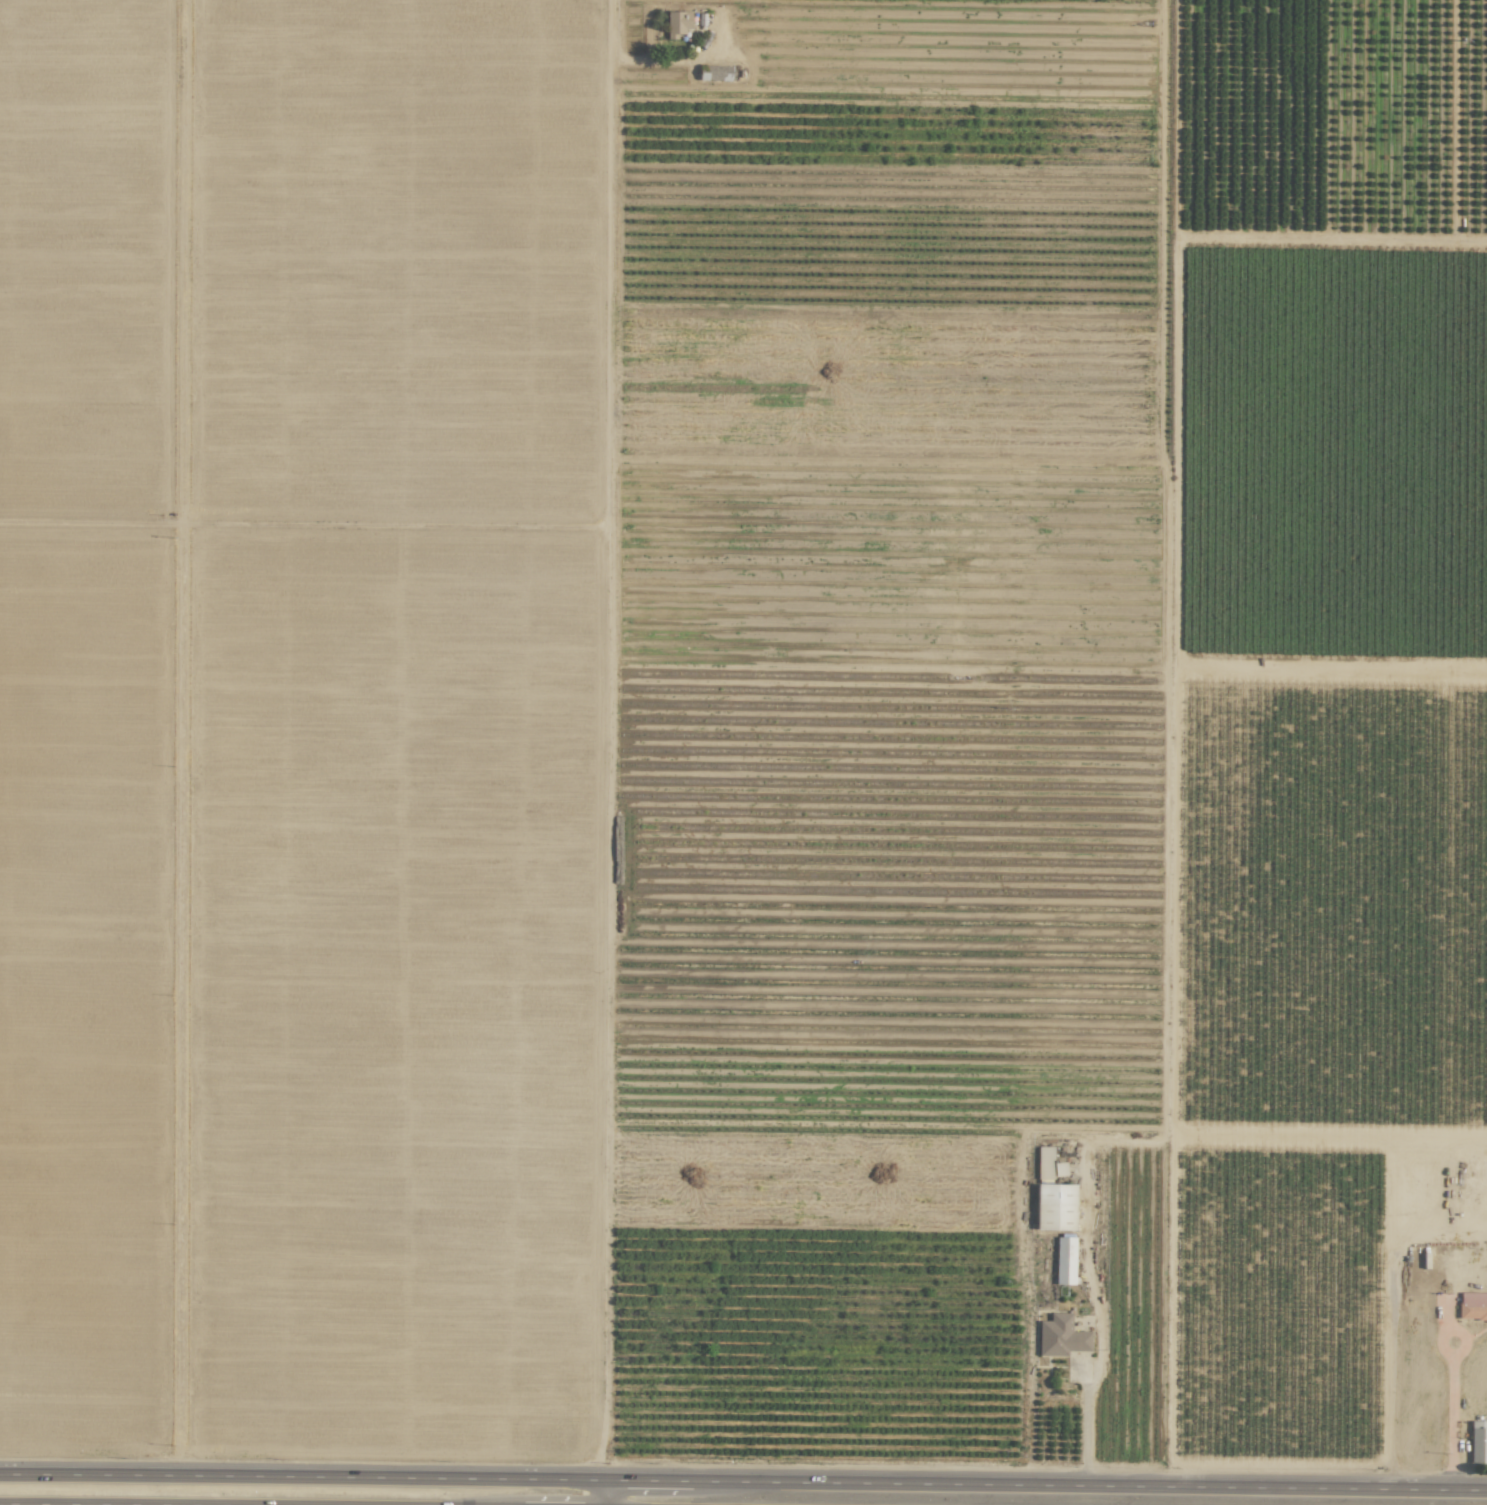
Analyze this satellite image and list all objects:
building: (676, 23)
road: (628, 57)
building: (714, 73)
road: (605, 740)
building: (1054, 1207)
building: (1065, 1260)
building: (1472, 1306)
building: (1060, 1336)
road: (1450, 1416)
road: (1085, 1426)
building: (1478, 1442)
road: (743, 1481)
road: (605, 1492)
road: (68, 1504)

